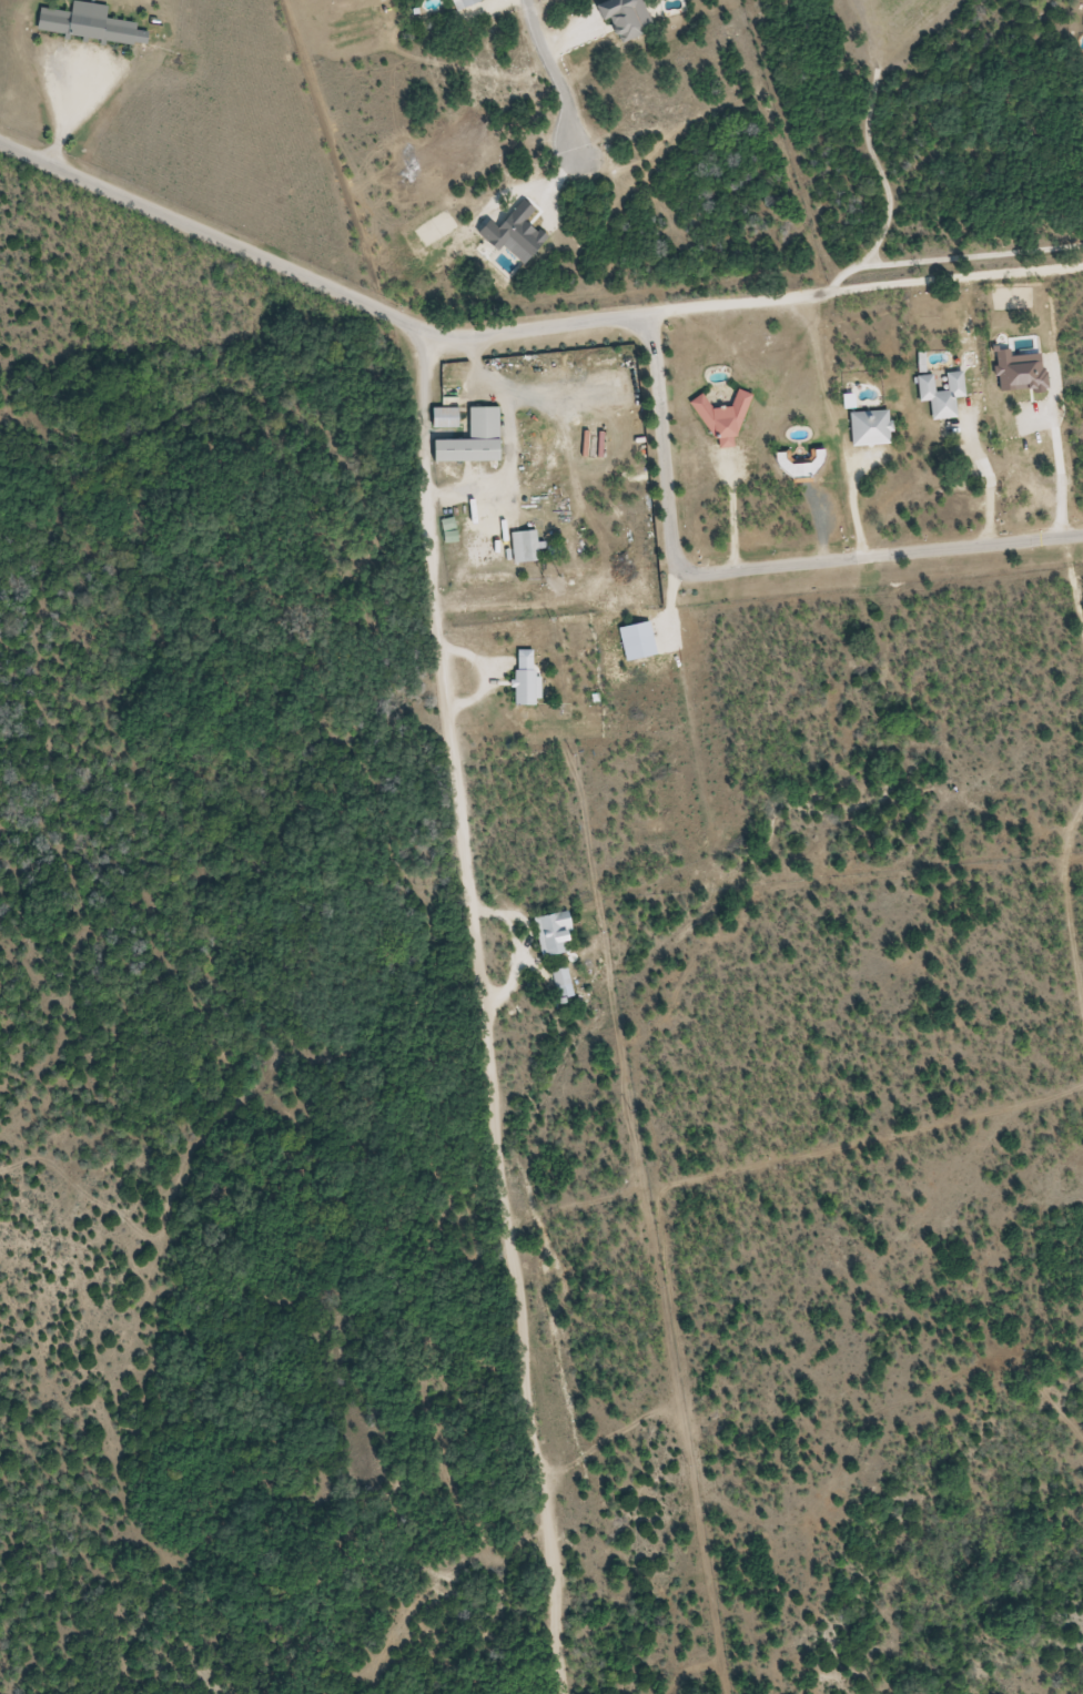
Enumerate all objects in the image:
building: (460, 3)
building: (619, 18)
building: (83, 23)
building: (140, 38)
road: (557, 80)
park: (868, 115)
road: (879, 165)
road: (957, 258)
road: (311, 280)
building: (938, 393)
building: (719, 417)
building: (442, 418)
building: (868, 428)
building: (469, 440)
road: (662, 442)
building: (799, 467)
building: (522, 546)
road: (878, 557)
road: (484, 1012)

